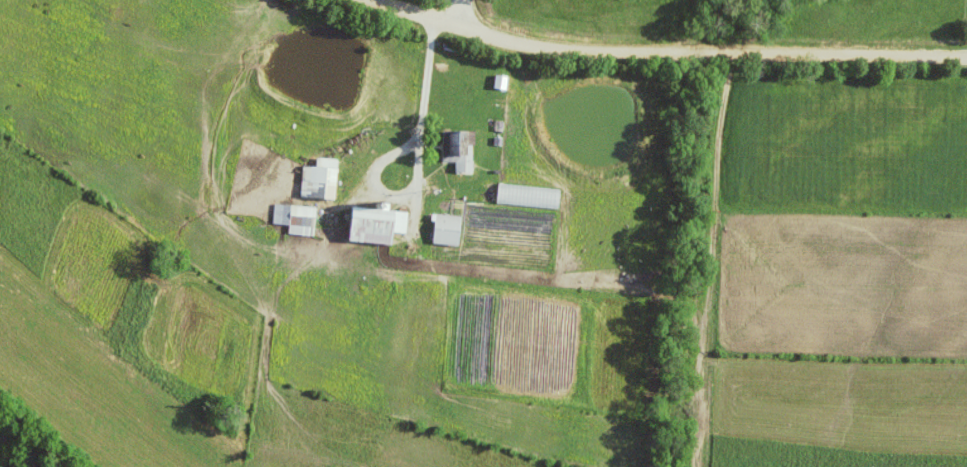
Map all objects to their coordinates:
road: (473, 13)
road: (679, 52)
road: (429, 76)
building: (462, 161)
building: (323, 181)
road: (401, 199)
building: (284, 216)
building: (304, 222)
building: (379, 227)
building: (451, 231)

